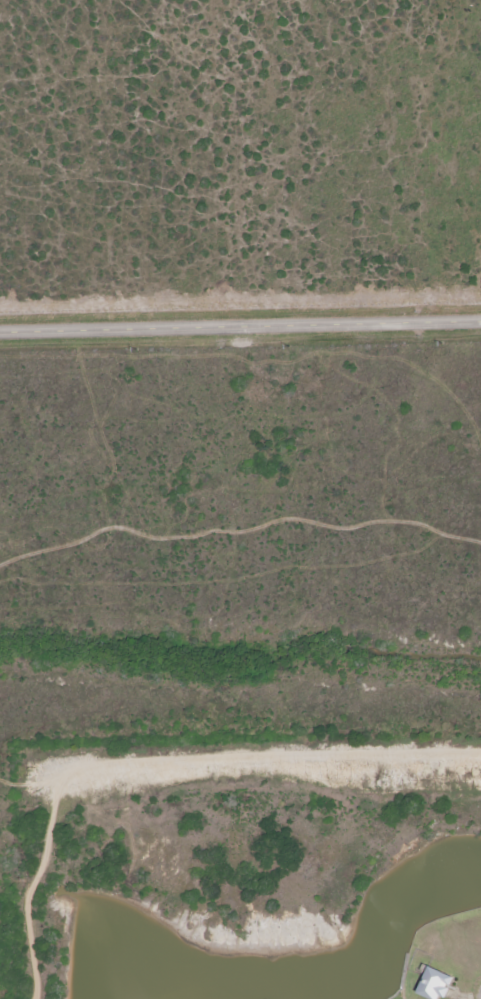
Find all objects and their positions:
road: (240, 329)
road: (156, 763)
building: (438, 984)

